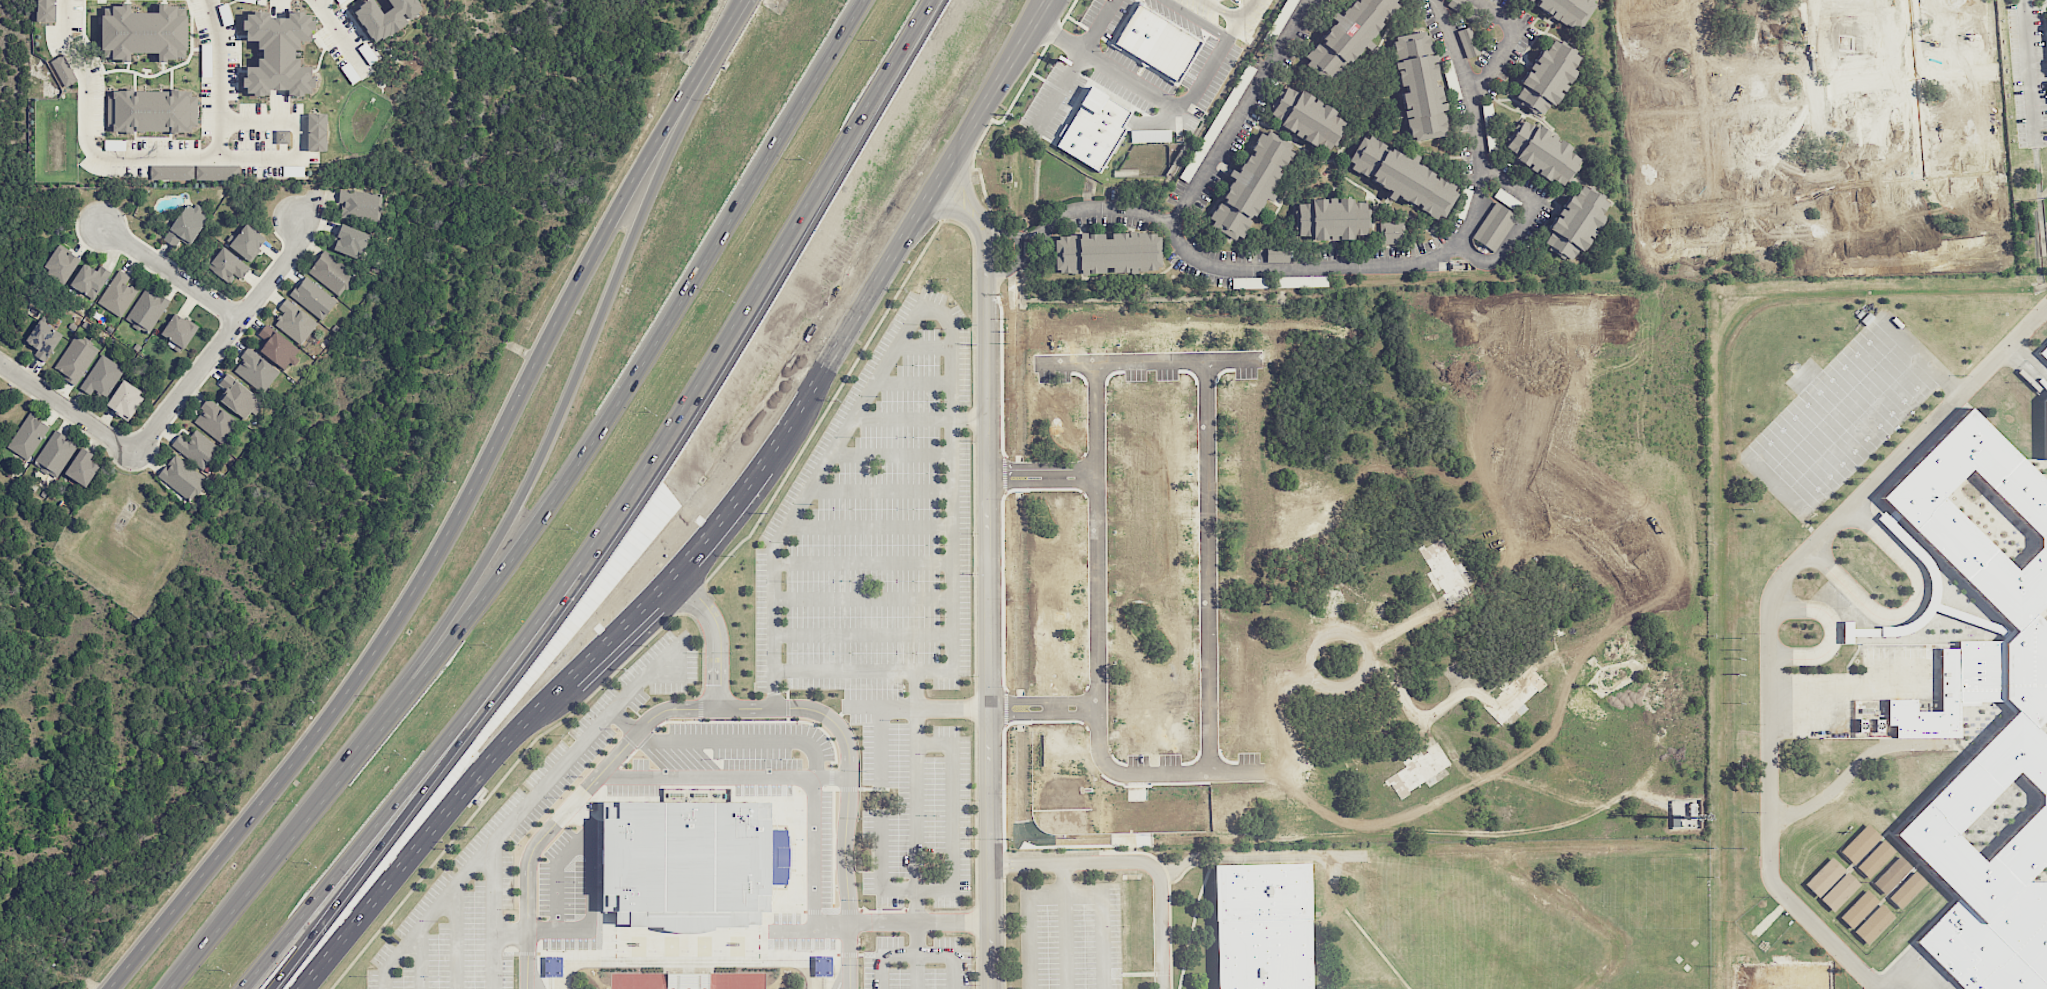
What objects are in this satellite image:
building: (247, 1)
building: (340, 1)
parking lot: (260, 2)
building: (46, 10)
road: (1221, 10)
building: (1567, 10)
road: (737, 12)
building: (225, 14)
building: (385, 16)
road: (1196, 19)
parking lot: (199, 22)
road: (1093, 25)
road: (358, 27)
building: (144, 33)
road: (341, 35)
building: (1346, 37)
road: (1508, 40)
building: (1156, 42)
building: (1467, 42)
road: (1454, 46)
road: (382, 49)
building: (278, 53)
road: (1069, 65)
building: (63, 70)
road: (2031, 71)
building: (1543, 75)
building: (1418, 84)
road: (1185, 102)
building: (152, 111)
road: (1241, 113)
building: (1307, 117)
building: (1091, 129)
building: (316, 132)
building: (1146, 136)
building: (282, 137)
road: (299, 137)
building: (1540, 150)
road: (150, 154)
building: (293, 170)
building: (171, 172)
building: (214, 172)
building: (1403, 175)
building: (1250, 183)
road: (933, 192)
building: (360, 204)
building: (1331, 218)
building: (1574, 221)
road: (1520, 222)
building: (187, 224)
building: (1494, 226)
road: (998, 232)
road: (1035, 232)
building: (1391, 232)
building: (351, 241)
building: (247, 242)
road: (1017, 248)
road: (1040, 248)
building: (1107, 252)
building: (61, 263)
building: (228, 265)
road: (1322, 266)
road: (1000, 270)
road: (172, 273)
building: (331, 273)
building: (90, 280)
building: (117, 294)
building: (313, 298)
building: (146, 310)
building: (294, 322)
building: (178, 332)
road: (223, 338)
building: (43, 339)
road: (923, 346)
building: (276, 347)
building: (2043, 353)
road: (1922, 354)
building: (75, 359)
road: (1147, 362)
road: (2028, 364)
building: (255, 370)
building: (101, 376)
road: (912, 381)
building: (237, 396)
road: (620, 398)
building: (125, 400)
road: (68, 405)
road: (560, 411)
park: (1843, 414)
road: (900, 419)
road: (967, 419)
building: (215, 421)
building: (2045, 428)
building: (28, 436)
building: (195, 448)
road: (890, 452)
building: (54, 453)
building: (82, 467)
road: (1040, 477)
building: (182, 478)
road: (752, 487)
road: (879, 489)
road: (801, 499)
road: (612, 513)
road: (868, 525)
road: (448, 527)
road: (862, 560)
road: (1209, 566)
road: (952, 567)
road: (985, 577)
road: (862, 597)
road: (1913, 608)
road: (1769, 613)
road: (862, 633)
road: (1834, 634)
road: (714, 636)
road: (616, 637)
road: (1096, 644)
building: (1993, 673)
road: (638, 680)
road: (1041, 699)
road: (914, 706)
road: (1054, 709)
parking lot: (788, 713)
road: (1041, 718)
building: (1868, 725)
road: (794, 740)
road: (878, 745)
road: (1855, 766)
road: (437, 769)
road: (721, 776)
road: (583, 788)
road: (331, 791)
road: (916, 796)
building: (1694, 811)
road: (844, 822)
building: (1677, 822)
road: (1462, 832)
road: (951, 833)
road: (428, 838)
road: (494, 838)
building: (1859, 843)
road: (878, 849)
building: (1875, 858)
road: (1134, 860)
building: (688, 862)
road: (555, 872)
building: (1891, 875)
building: (1824, 877)
building: (1906, 889)
building: (1839, 891)
road: (243, 898)
building: (1858, 909)
road: (589, 912)
road: (493, 913)
road: (917, 921)
road: (1028, 923)
road: (1099, 923)
road: (1064, 924)
building: (1873, 924)
building: (1261, 925)
road: (809, 926)
road: (453, 938)
road: (934, 954)
road: (916, 955)
road: (419, 958)
building: (552, 966)
building: (822, 966)
road: (1902, 967)
stadium: (687, 971)
road: (881, 971)
parking lot: (1902, 971)
road: (383, 979)
building: (687, 980)
park: (1753, 983)
park: (1782, 983)
park: (1810, 983)

